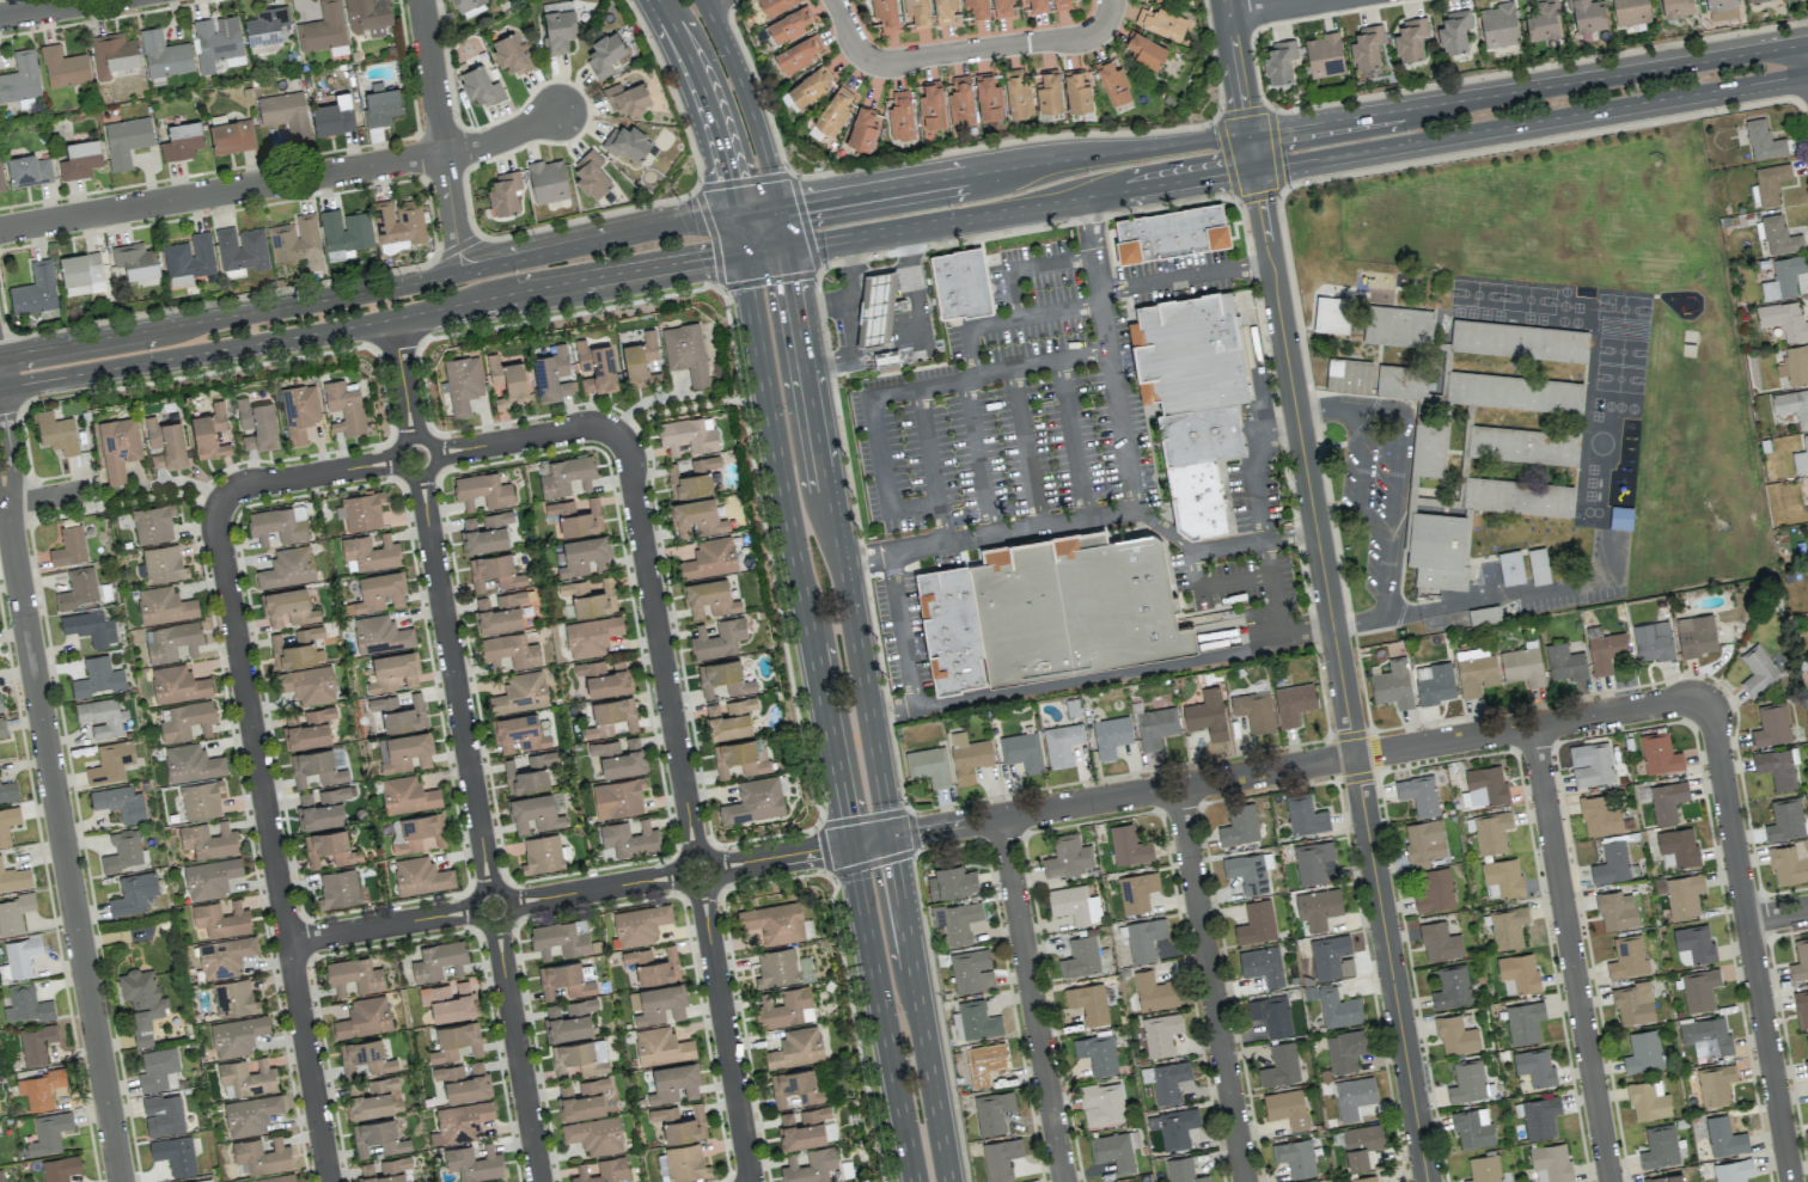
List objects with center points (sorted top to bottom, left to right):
road: (701, 0)
road: (703, 0)
building: (1752, 0)
road: (57, 2)
building: (465, 4)
building: (1721, 4)
building: (775, 5)
building: (1033, 5)
building: (1062, 5)
road: (42, 7)
road: (1270, 7)
building: (1676, 7)
building: (977, 8)
building: (1002, 8)
road: (1110, 10)
building: (943, 11)
building: (916, 12)
building: (1630, 12)
building: (884, 13)
building: (1587, 16)
building: (367, 17)
building: (1543, 20)
building: (1160, 22)
building: (788, 25)
building: (1498, 25)
building: (323, 27)
building: (265, 30)
building: (557, 30)
building: (1453, 31)
road: (848, 33)
building: (1410, 38)
building: (216, 42)
road: (994, 47)
building: (1366, 47)
building: (1144, 49)
building: (112, 54)
building: (512, 54)
building: (604, 54)
building: (796, 54)
building: (164, 55)
building: (1324, 55)
building: (1279, 61)
building: (63, 67)
road: (1238, 68)
building: (20, 78)
building: (1112, 81)
building: (481, 86)
building: (808, 87)
road: (1528, 90)
building: (1077, 91)
building: (1047, 92)
building: (1018, 93)
building: (627, 97)
building: (988, 97)
road: (745, 99)
road: (704, 100)
building: (960, 100)
building: (380, 105)
building: (932, 106)
traffic signals: (1245, 108)
building: (835, 110)
building: (286, 114)
building: (334, 116)
building: (900, 116)
road: (1531, 121)
building: (861, 129)
traffic signals: (1277, 131)
road: (441, 135)
building: (232, 136)
building: (126, 140)
building: (1763, 140)
building: (182, 141)
building: (625, 141)
road: (1252, 152)
building: (79, 159)
road: (1012, 170)
building: (28, 171)
traffic signals: (1226, 173)
building: (591, 174)
traffic signals: (731, 179)
building: (548, 180)
building: (0, 182)
road: (283, 182)
building: (1770, 183)
building: (503, 192)
traffic signals: (1260, 200)
traffic signals: (804, 201)
road: (755, 207)
road: (1019, 208)
building: (398, 223)
road: (778, 225)
road: (739, 231)
building: (344, 233)
building: (1172, 234)
building: (1779, 235)
road: (597, 240)
building: (297, 241)
building: (242, 247)
road: (763, 249)
traffic signals: (711, 257)
building: (189, 258)
building: (135, 261)
road: (881, 270)
building: (81, 274)
building: (1783, 277)
traffic signals: (789, 282)
building: (961, 284)
road: (385, 287)
building: (35, 289)
road: (833, 302)
gas station: (866, 305)
building: (876, 308)
building: (1332, 314)
building: (1784, 319)
road: (371, 320)
building: (1398, 326)
road: (153, 327)
road: (914, 331)
building: (1519, 341)
road: (969, 349)
building: (685, 351)
road: (851, 351)
road: (1108, 351)
road: (1040, 359)
building: (640, 361)
building: (1794, 365)
building: (594, 367)
building: (551, 374)
building: (1349, 375)
building: (507, 381)
building: (463, 384)
building: (1513, 392)
building: (1193, 397)
building: (1791, 405)
building: (343, 408)
road: (692, 410)
building: (299, 411)
building: (1416, 417)
building: (256, 424)
road: (1283, 430)
building: (55, 431)
building: (209, 433)
road: (1071, 435)
building: (686, 436)
road: (924, 442)
building: (165, 443)
road: (1026, 445)
building: (1522, 445)
building: (118, 447)
road: (977, 453)
road: (10, 455)
road: (419, 457)
building: (1801, 458)
building: (567, 477)
building: (692, 477)
road: (1392, 488)
building: (482, 490)
building: (1517, 496)
road: (47, 497)
road: (151, 501)
road: (2, 502)
road: (2, 506)
building: (362, 510)
road: (1258, 510)
road: (1083, 515)
building: (696, 517)
building: (152, 523)
building: (277, 523)
building: (484, 532)
road: (837, 541)
building: (68, 546)
road: (796, 547)
building: (1439, 549)
building: (369, 553)
building: (584, 556)
building: (710, 558)
building: (163, 563)
building: (1538, 564)
building: (287, 568)
building: (1510, 568)
building: (494, 571)
building: (79, 588)
building: (378, 592)
building: (709, 598)
road: (1499, 599)
building: (164, 605)
building: (1074, 605)
building: (287, 607)
building: (499, 612)
building: (90, 627)
building: (953, 630)
building: (309, 632)
building: (380, 635)
building: (1696, 635)
building: (591, 636)
building: (717, 638)
building: (1653, 641)
building: (172, 642)
building: (509, 650)
road: (905, 651)
building: (1605, 651)
building: (293, 653)
building: (1564, 662)
building: (1522, 666)
building: (1476, 670)
building: (1758, 670)
building: (393, 672)
road: (1342, 674)
road: (1099, 675)
building: (98, 676)
building: (604, 678)
building: (723, 678)
building: (177, 684)
building: (1392, 684)
building: (1436, 684)
building: (310, 685)
building: (520, 693)
building: (1293, 703)
building: (0, 705)
building: (1254, 711)
building: (398, 712)
building: (1207, 714)
building: (100, 716)
building: (612, 717)
building: (729, 718)
building: (185, 719)
building: (1772, 724)
building: (2, 727)
building: (1155, 727)
building: (307, 728)
building: (519, 731)
building: (1111, 735)
building: (1061, 743)
road: (465, 748)
building: (404, 752)
building: (1022, 752)
building: (1659, 753)
building: (618, 757)
building: (741, 757)
building: (969, 757)
building: (110, 761)
building: (190, 763)
building: (1590, 764)
building: (928, 765)
building: (1777, 766)
building: (316, 767)
building: (529, 773)
building: (1484, 786)
building: (7, 790)
building: (1418, 794)
building: (407, 795)
building: (618, 798)
building: (200, 800)
building: (753, 801)
building: (1667, 801)
building: (120, 803)
building: (322, 808)
road: (688, 810)
building: (533, 813)
building: (1305, 815)
traffic signals: (845, 816)
building: (1599, 816)
road: (998, 819)
building: (1785, 820)
building: (7, 822)
building: (1239, 825)
building: (420, 832)
building: (1491, 832)
traffic signals: (917, 834)
building: (629, 839)
building: (208, 840)
building: (1424, 840)
road: (269, 843)
road: (62, 844)
building: (1128, 845)
building: (1679, 845)
building: (329, 847)
traffic signals: (819, 851)
building: (123, 852)
building: (542, 853)
building: (1067, 856)
building: (1312, 861)
traffic signals: (894, 863)
building: (1611, 863)
building: (1788, 865)
building: (1247, 872)
building: (421, 876)
building: (210, 877)
building: (1503, 877)
building: (14, 878)
building: (951, 878)
building: (338, 888)
building: (1434, 889)
building: (1136, 892)
building: (133, 893)
building: (1681, 894)
building: (1074, 904)
building: (1318, 907)
building: (1617, 910)
building: (14, 912)
road: (1778, 915)
building: (221, 919)
building: (955, 920)
building: (1256, 923)
building: (640, 924)
building: (1508, 927)
building: (139, 933)
building: (560, 938)
building: (1144, 938)
road: (1752, 939)
building: (1439, 942)
building: (1693, 945)
road: (1572, 955)
building: (224, 956)
building: (1080, 956)
building: (1331, 956)
building: (19, 957)
building: (1627, 957)
building: (1800, 960)
building: (438, 961)
building: (653, 964)
building: (1262, 964)
building: (776, 967)
building: (971, 970)
building: (1517, 973)
building: (354, 975)
building: (563, 980)
road: (1213, 985)
building: (1450, 987)
building: (1699, 990)
building: (1154, 992)
building: (234, 998)
building: (448, 1000)
road: (1036, 1000)
building: (141, 1002)
building: (1088, 1002)
building: (1633, 1003)
building: (26, 1004)
building: (659, 1004)
building: (786, 1008)
building: (1338, 1008)
building: (1801, 1008)
road: (918, 1010)
road: (880, 1012)
building: (1271, 1015)
building: (365, 1017)
building: (569, 1019)
building: (977, 1019)
building: (1523, 1022)
building: (1160, 1034)
building: (237, 1035)
building: (1455, 1035)
building: (1706, 1036)
building: (454, 1041)
building: (1807, 1043)
building: (36, 1045)
building: (661, 1046)
building: (796, 1048)
building: (1344, 1051)
building: (1643, 1052)
building: (1097, 1053)
building: (366, 1057)
building: (579, 1058)
building: (985, 1062)
building: (1279, 1065)
building: (1806, 1065)
building: (1534, 1066)
building: (158, 1070)
building: (246, 1078)
building: (1166, 1080)
building: (463, 1082)
building: (1467, 1082)
building: (673, 1083)
building: (1715, 1084)
building: (795, 1088)
building: (39, 1089)
building: (1351, 1097)
building: (377, 1098)
building: (581, 1098)
building: (1648, 1100)
building: (1101, 1103)
building: (1287, 1108)
building: (992, 1111)
building: (163, 1114)
building: (250, 1114)
building: (1540, 1116)
building: (463, 1120)
building: (679, 1122)
building: (802, 1127)
building: (1173, 1127)
building: (1473, 1128)
building: (48, 1133)
building: (594, 1135)
building: (378, 1137)
building: (1724, 1137)
building: (1361, 1144)
building: (1660, 1146)
building: (1114, 1150)
building: (175, 1153)
building: (262, 1156)
building: (1295, 1157)
building: (1000, 1158)
building: (474, 1163)
building: (685, 1163)
building: (1551, 1163)
building: (810, 1165)
building: (60, 1168)
building: (1484, 1169)
building: (385, 1170)
building: (603, 1170)
building: (1183, 1170)
building: (1733, 1170)
building: (0, 1176)
building: (274, 1178)
building: (1364, 1178)
building: (1666, 1178)
building: (202, 1181)
building: (503, 1181)

